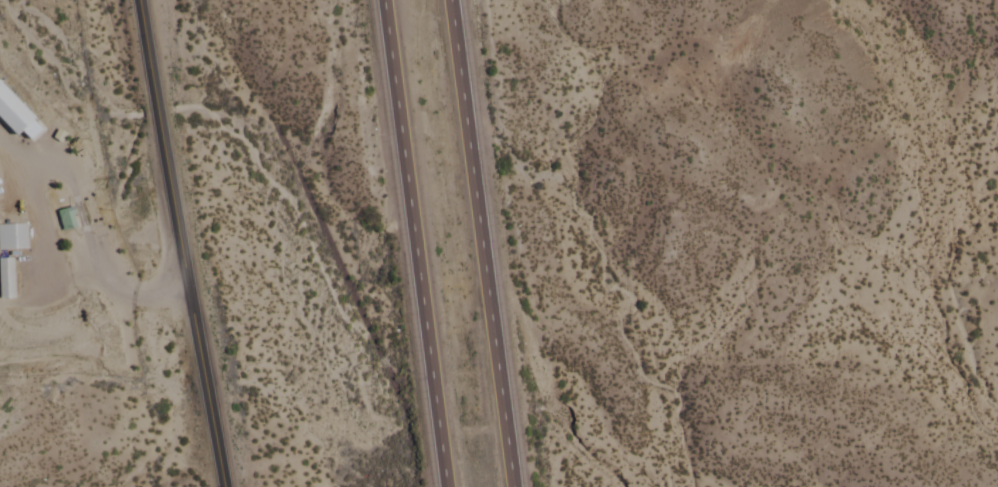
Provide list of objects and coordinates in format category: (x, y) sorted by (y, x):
building: (67, 222)
building: (14, 240)
landfill: (42, 241)
road: (183, 243)
road: (412, 243)
road: (482, 243)
building: (7, 282)

